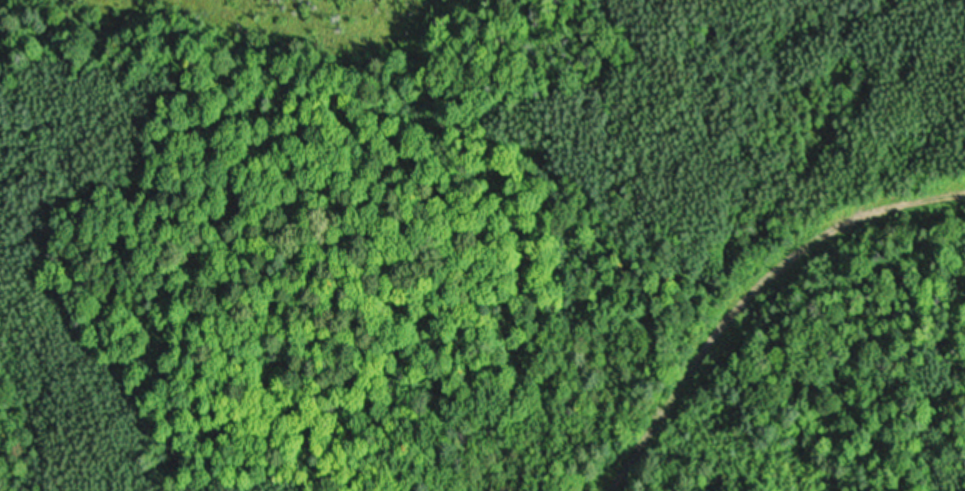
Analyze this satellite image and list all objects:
road: (744, 288)

